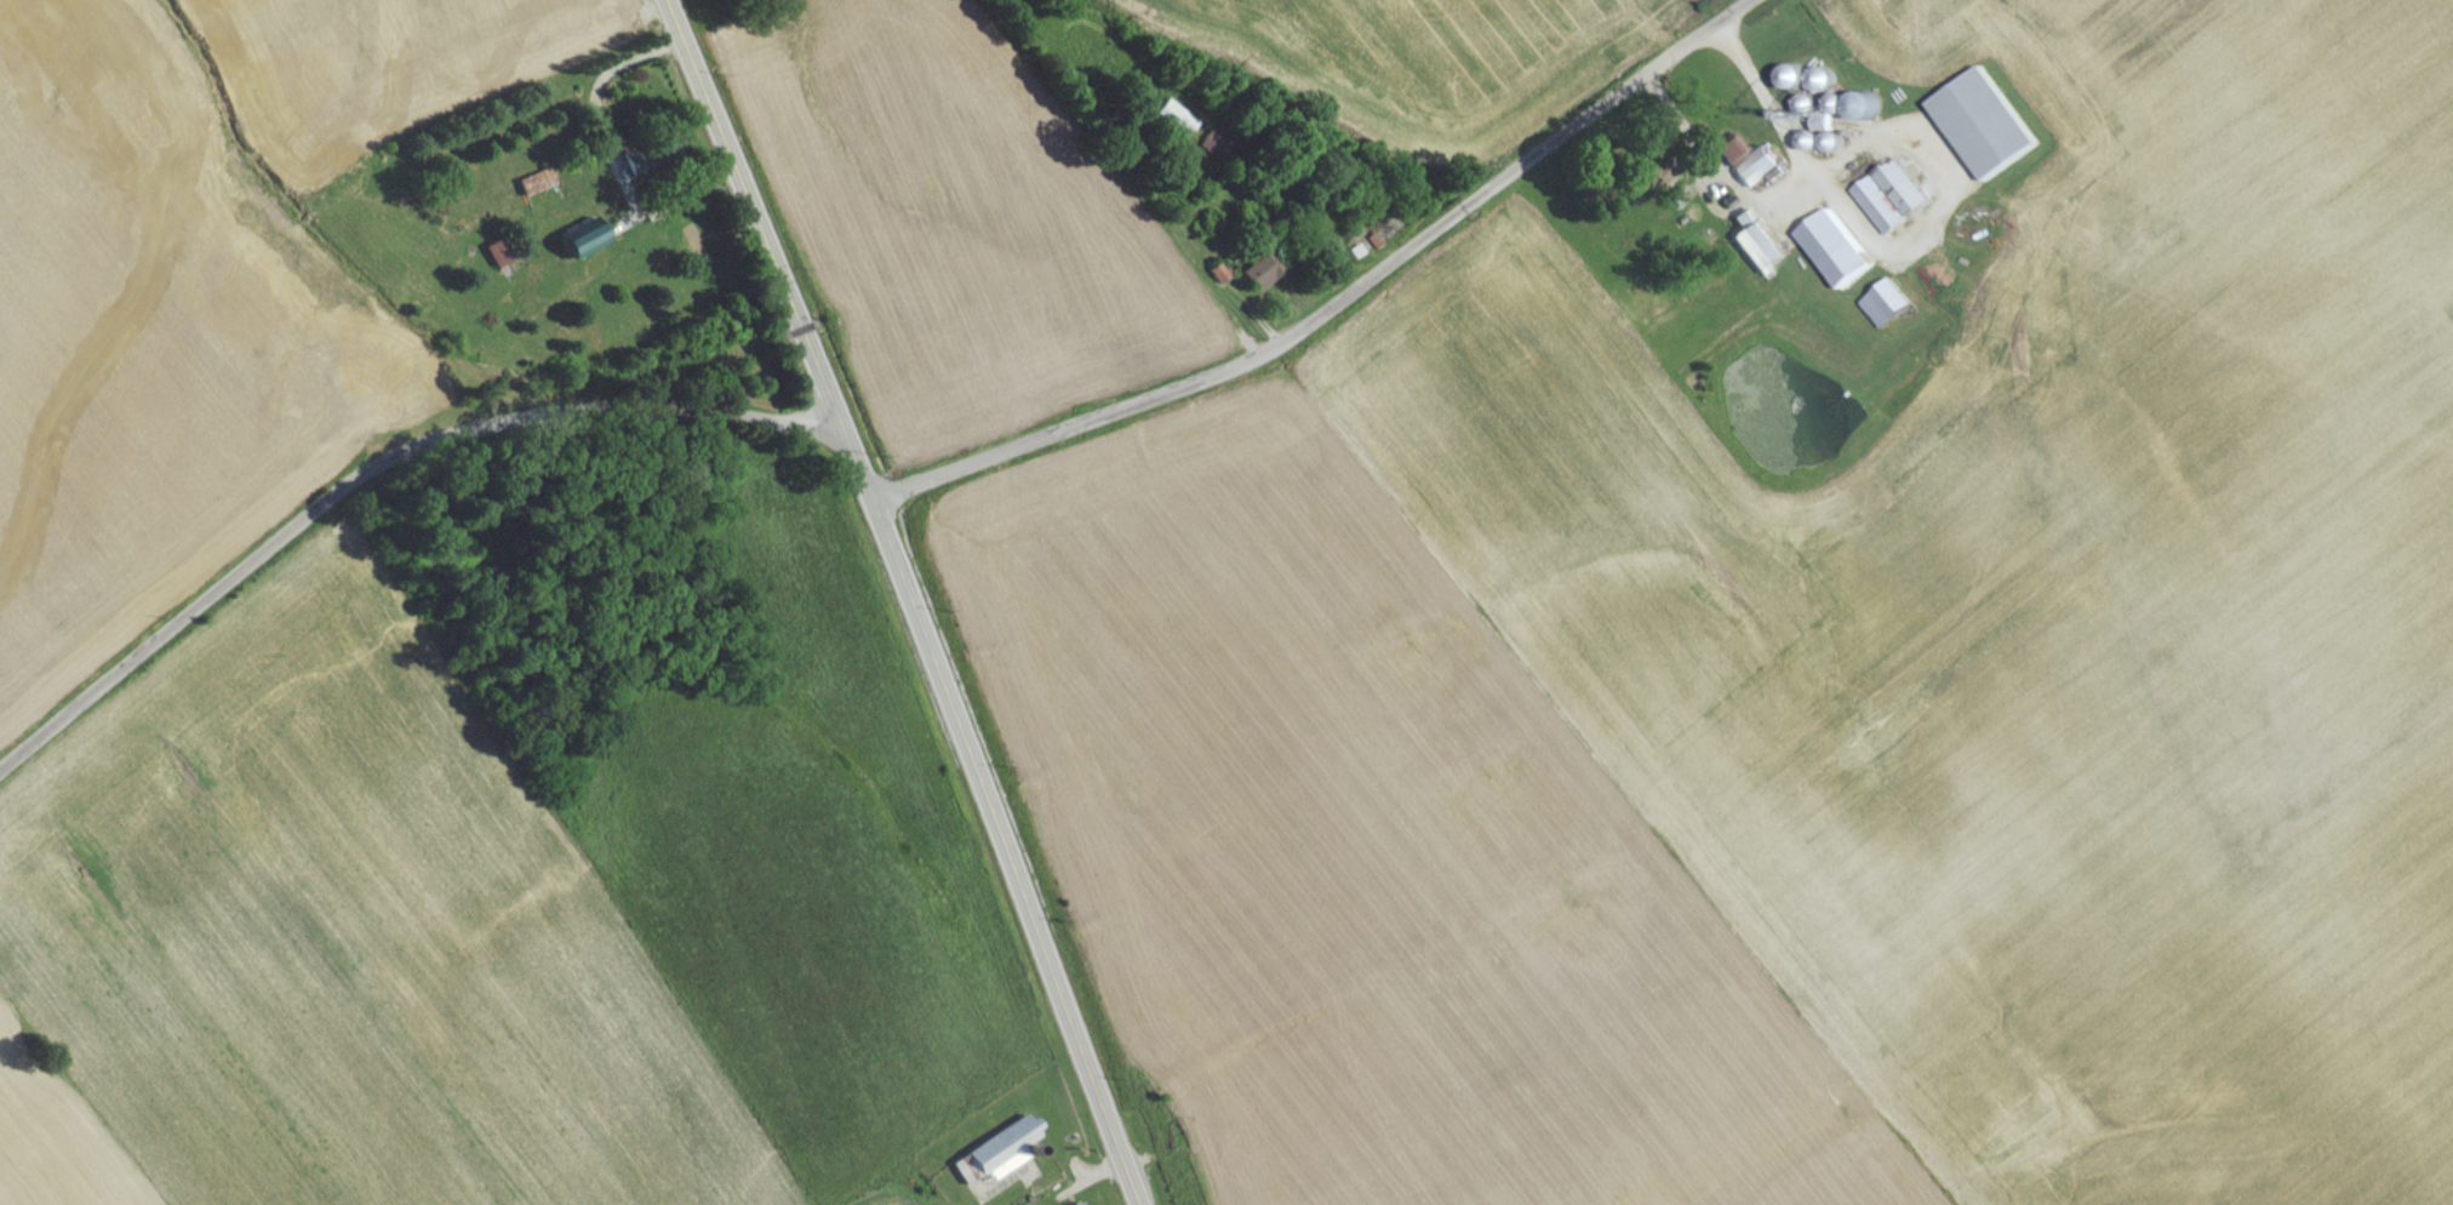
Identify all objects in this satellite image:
building: (1174, 125)
building: (1983, 130)
road: (613, 159)
building: (1746, 167)
building: (1648, 185)
building: (536, 188)
building: (1891, 202)
building: (581, 246)
building: (1755, 250)
building: (1835, 256)
building: (497, 258)
building: (1222, 278)
building: (1262, 278)
road: (1342, 307)
building: (1886, 310)
road: (376, 469)
road: (905, 599)
building: (1001, 1157)

